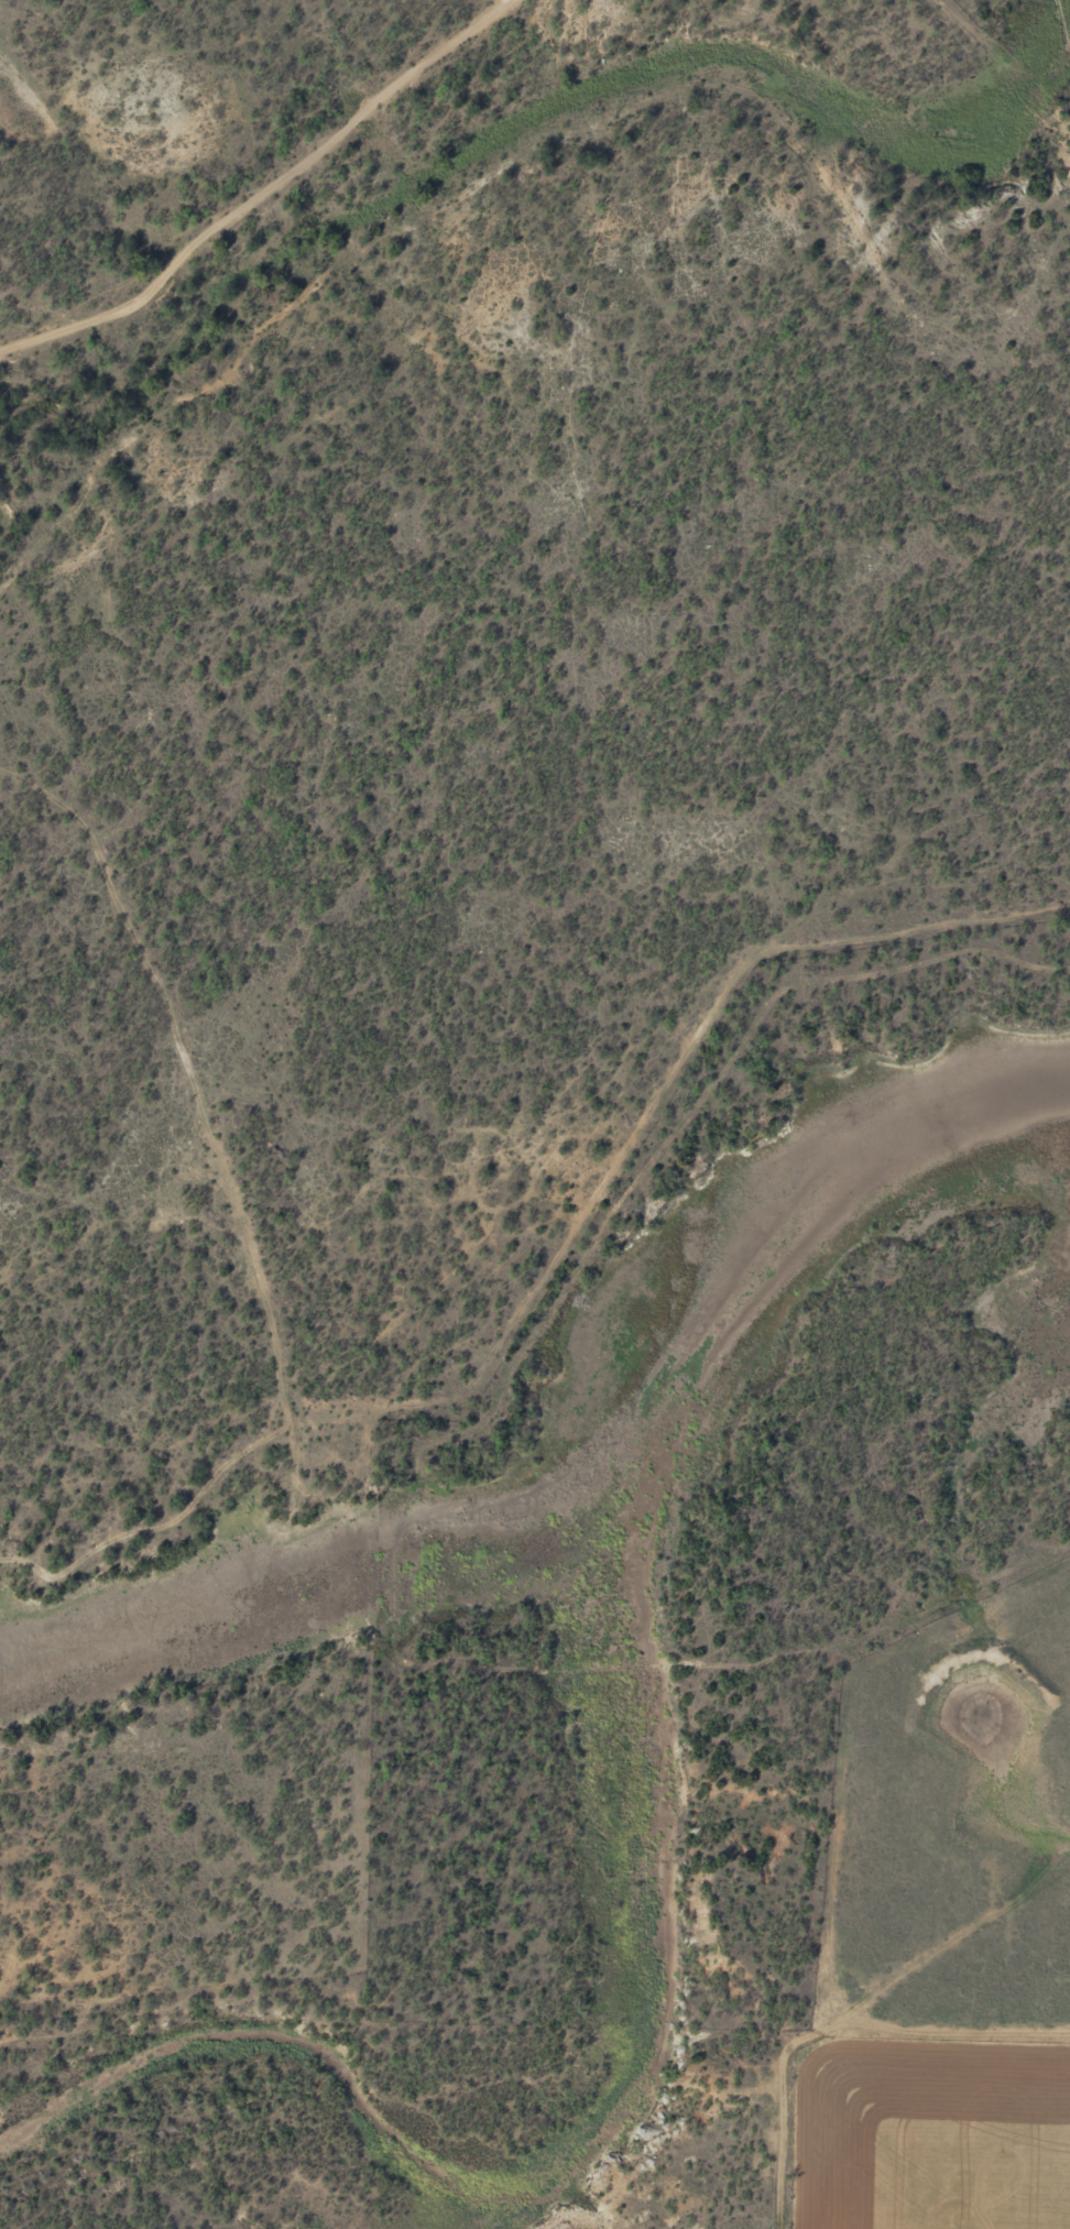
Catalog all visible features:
road: (965, 20)
road: (262, 194)
road: (110, 866)
road: (866, 2039)

